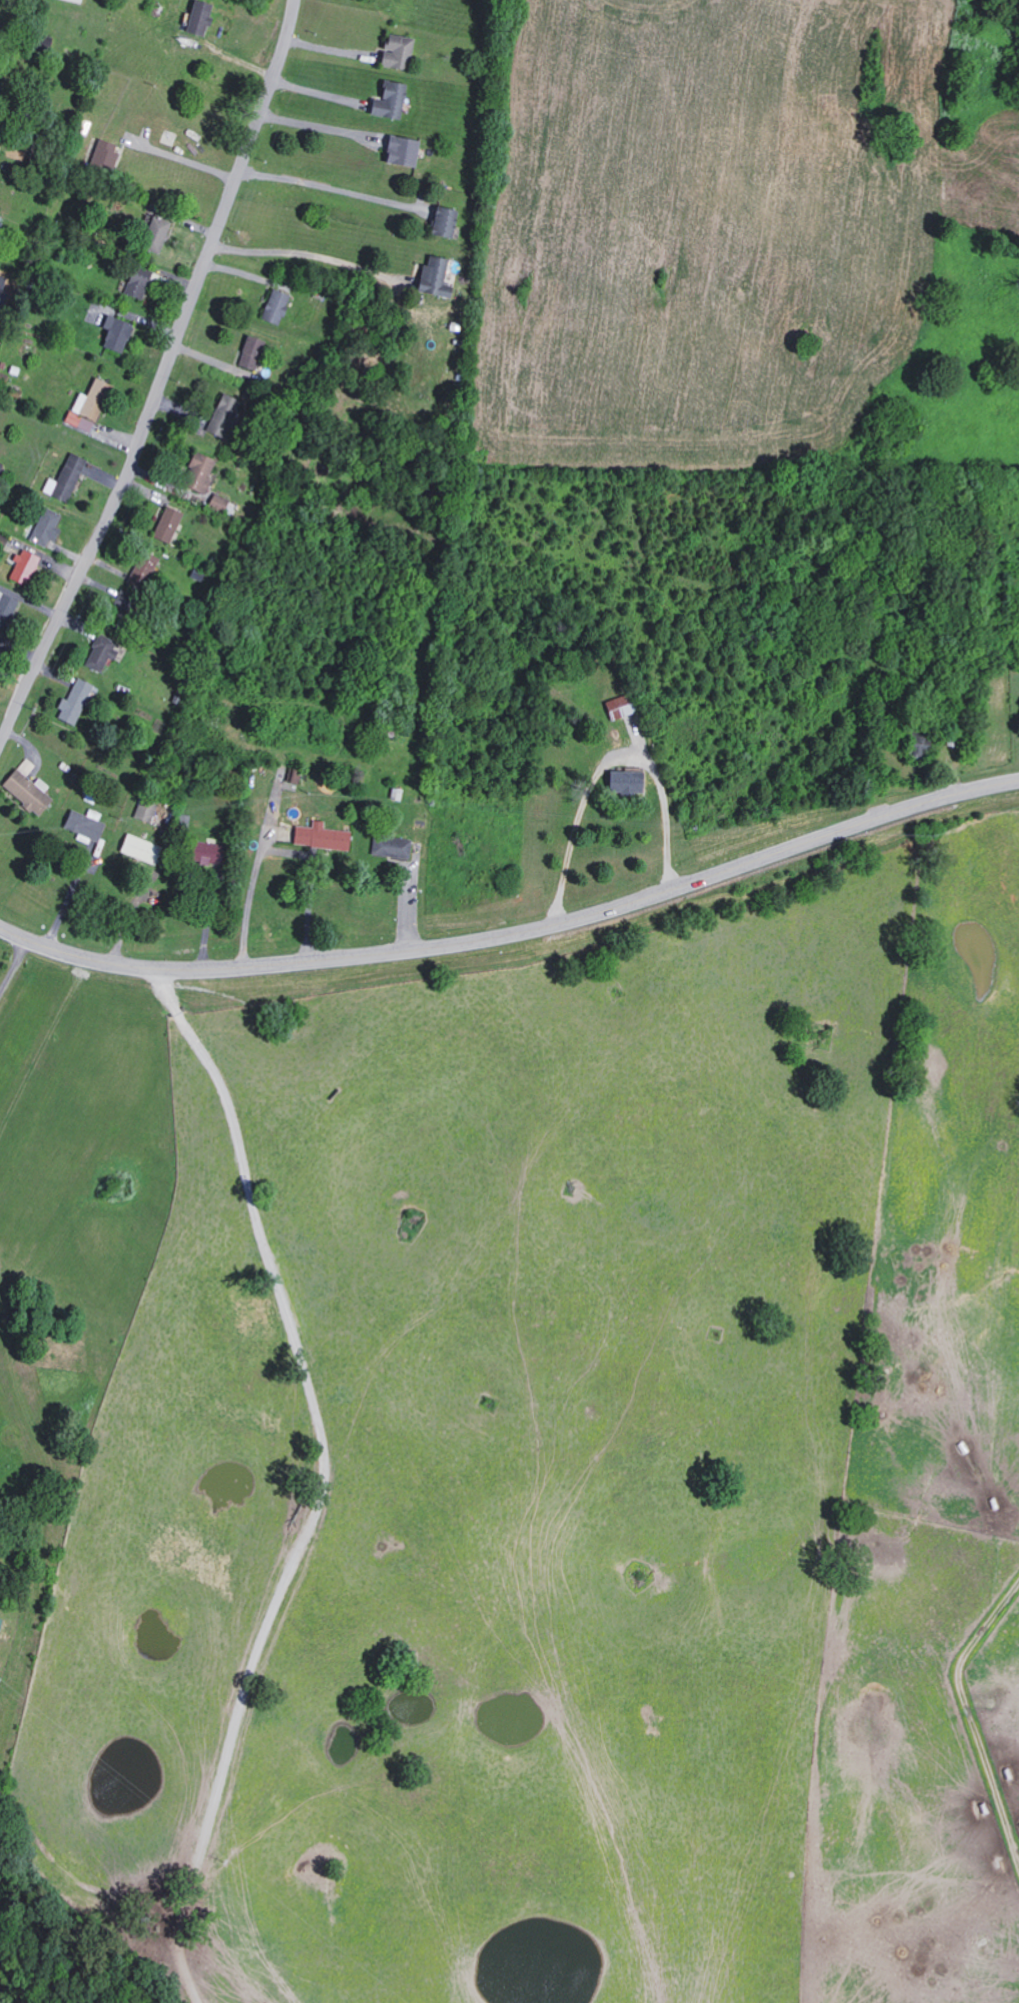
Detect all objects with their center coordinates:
building: (74, 0)
building: (197, 17)
building: (40, 40)
building: (394, 51)
building: (387, 99)
road: (315, 126)
building: (400, 150)
building: (102, 153)
road: (182, 158)
road: (328, 187)
building: (441, 221)
building: (153, 234)
road: (306, 254)
building: (432, 277)
building: (135, 281)
building: (273, 306)
building: (113, 333)
building: (249, 352)
road: (164, 378)
building: (87, 406)
building: (221, 415)
building: (197, 472)
building: (64, 478)
building: (217, 501)
building: (164, 524)
building: (43, 527)
building: (1, 541)
building: (142, 566)
building: (22, 567)
building: (100, 652)
building: (73, 702)
building: (617, 707)
road: (610, 762)
building: (623, 782)
building: (26, 788)
building: (142, 811)
building: (83, 824)
building: (319, 836)
building: (389, 846)
road: (278, 847)
building: (139, 849)
building: (204, 852)
road: (70, 895)
road: (131, 912)
road: (208, 917)
road: (515, 932)
road: (14, 966)
road: (320, 1481)
building: (6, 1630)

